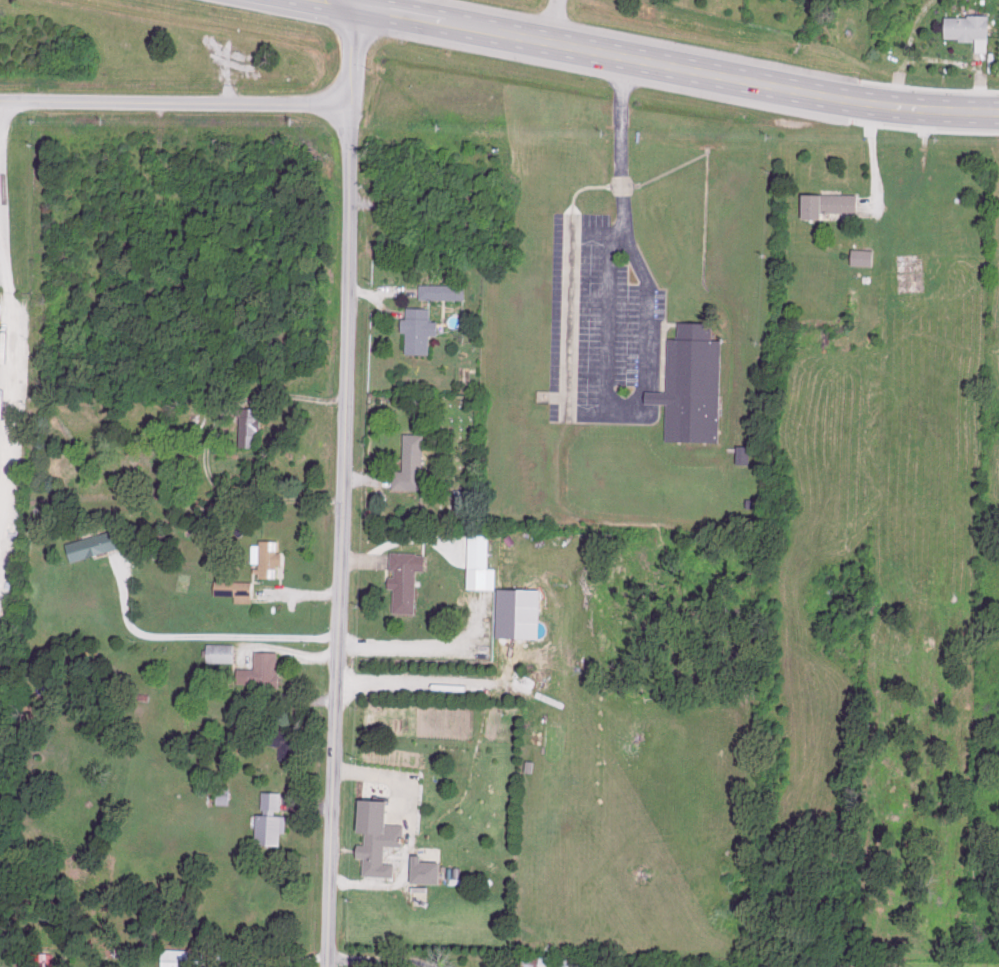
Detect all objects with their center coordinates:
road: (549, 25)
building: (964, 29)
road: (591, 39)
road: (541, 50)
road: (175, 102)
road: (892, 107)
road: (2, 108)
road: (622, 142)
road: (873, 160)
building: (823, 203)
building: (860, 256)
building: (444, 290)
building: (0, 309)
building: (422, 329)
road: (567, 373)
building: (693, 383)
building: (251, 426)
road: (210, 451)
building: (745, 453)
building: (414, 464)
road: (344, 489)
building: (97, 544)
building: (270, 556)
building: (484, 562)
building: (408, 579)
building: (238, 589)
building: (523, 612)
road: (194, 634)
road: (436, 640)
building: (224, 651)
building: (265, 668)
building: (287, 741)
road: (387, 774)
building: (225, 794)
building: (274, 800)
building: (274, 827)
building: (382, 836)
building: (432, 870)
building: (456, 874)
building: (179, 957)
building: (42, 958)
building: (539, 960)
road: (373, 962)
building: (569, 962)

